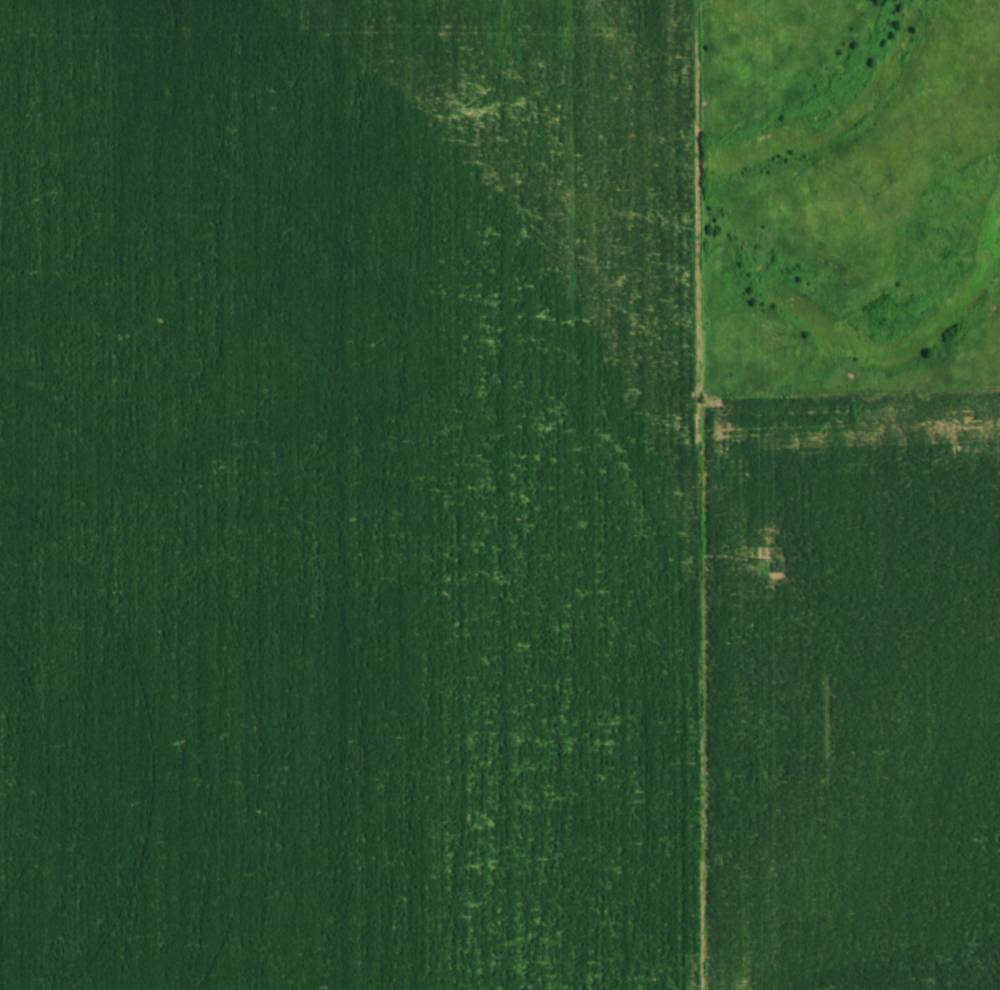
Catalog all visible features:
crop: (848, 690)

